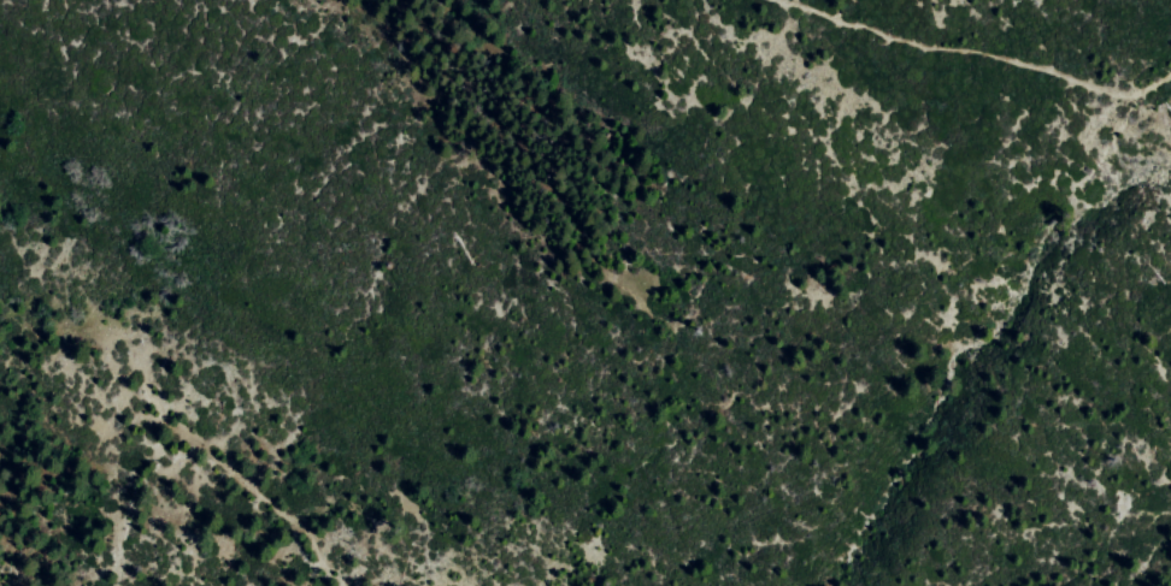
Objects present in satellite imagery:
road: (269, 502)

